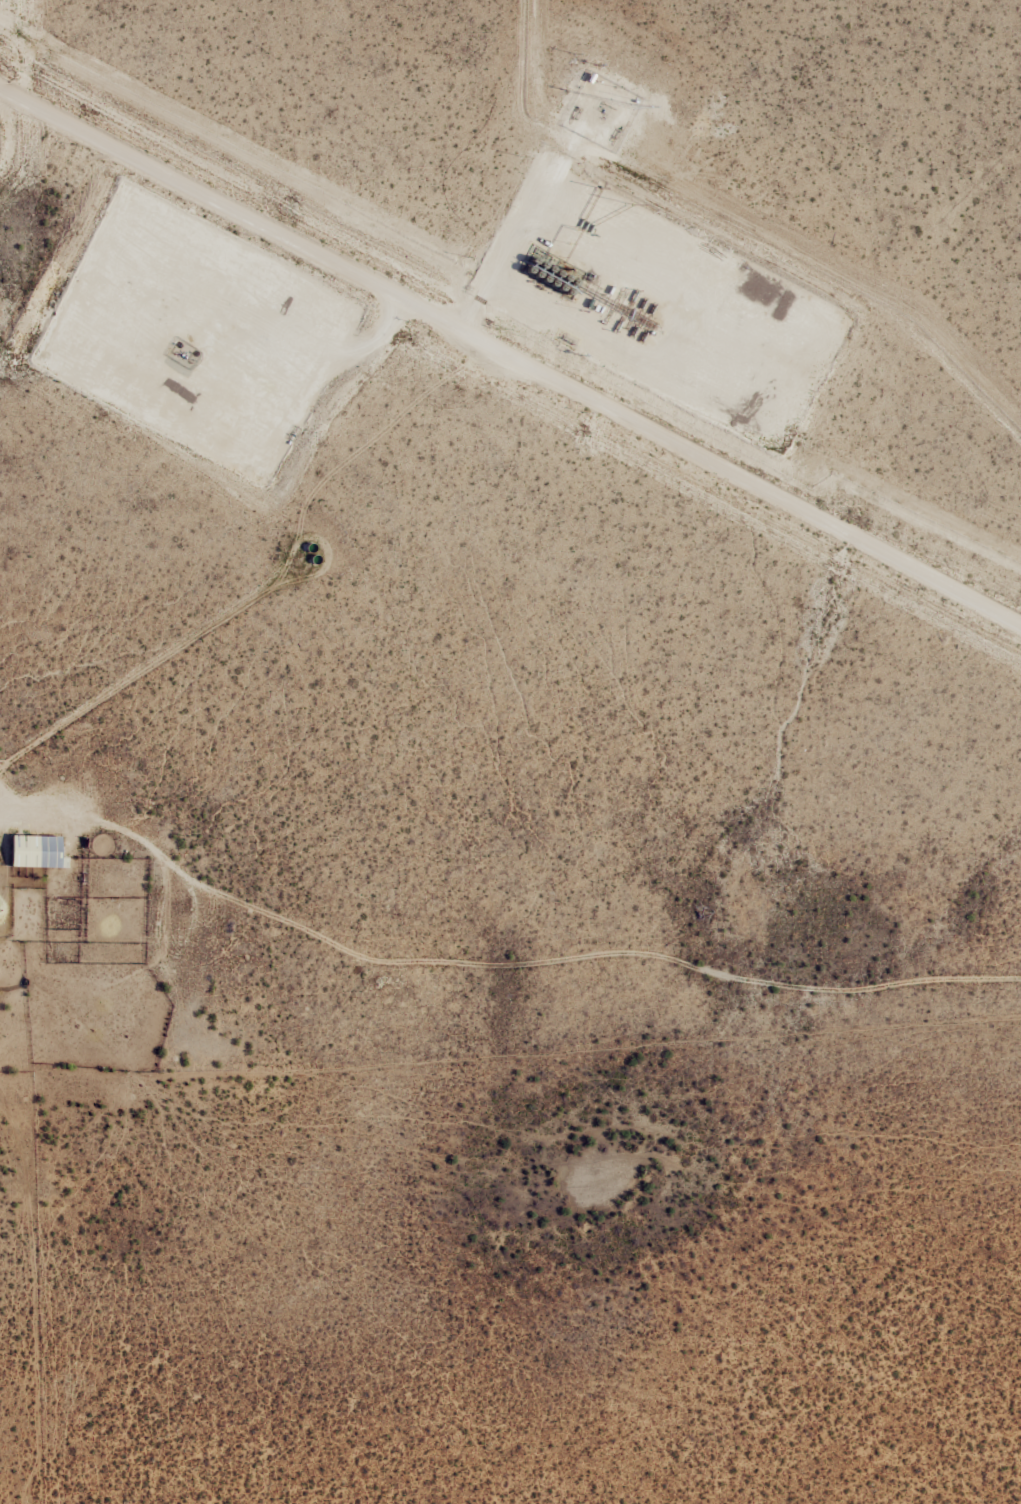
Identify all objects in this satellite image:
road: (221, 38)
road: (497, 125)
road: (926, 202)
road: (598, 211)
road: (510, 362)
road: (319, 364)
road: (41, 817)

